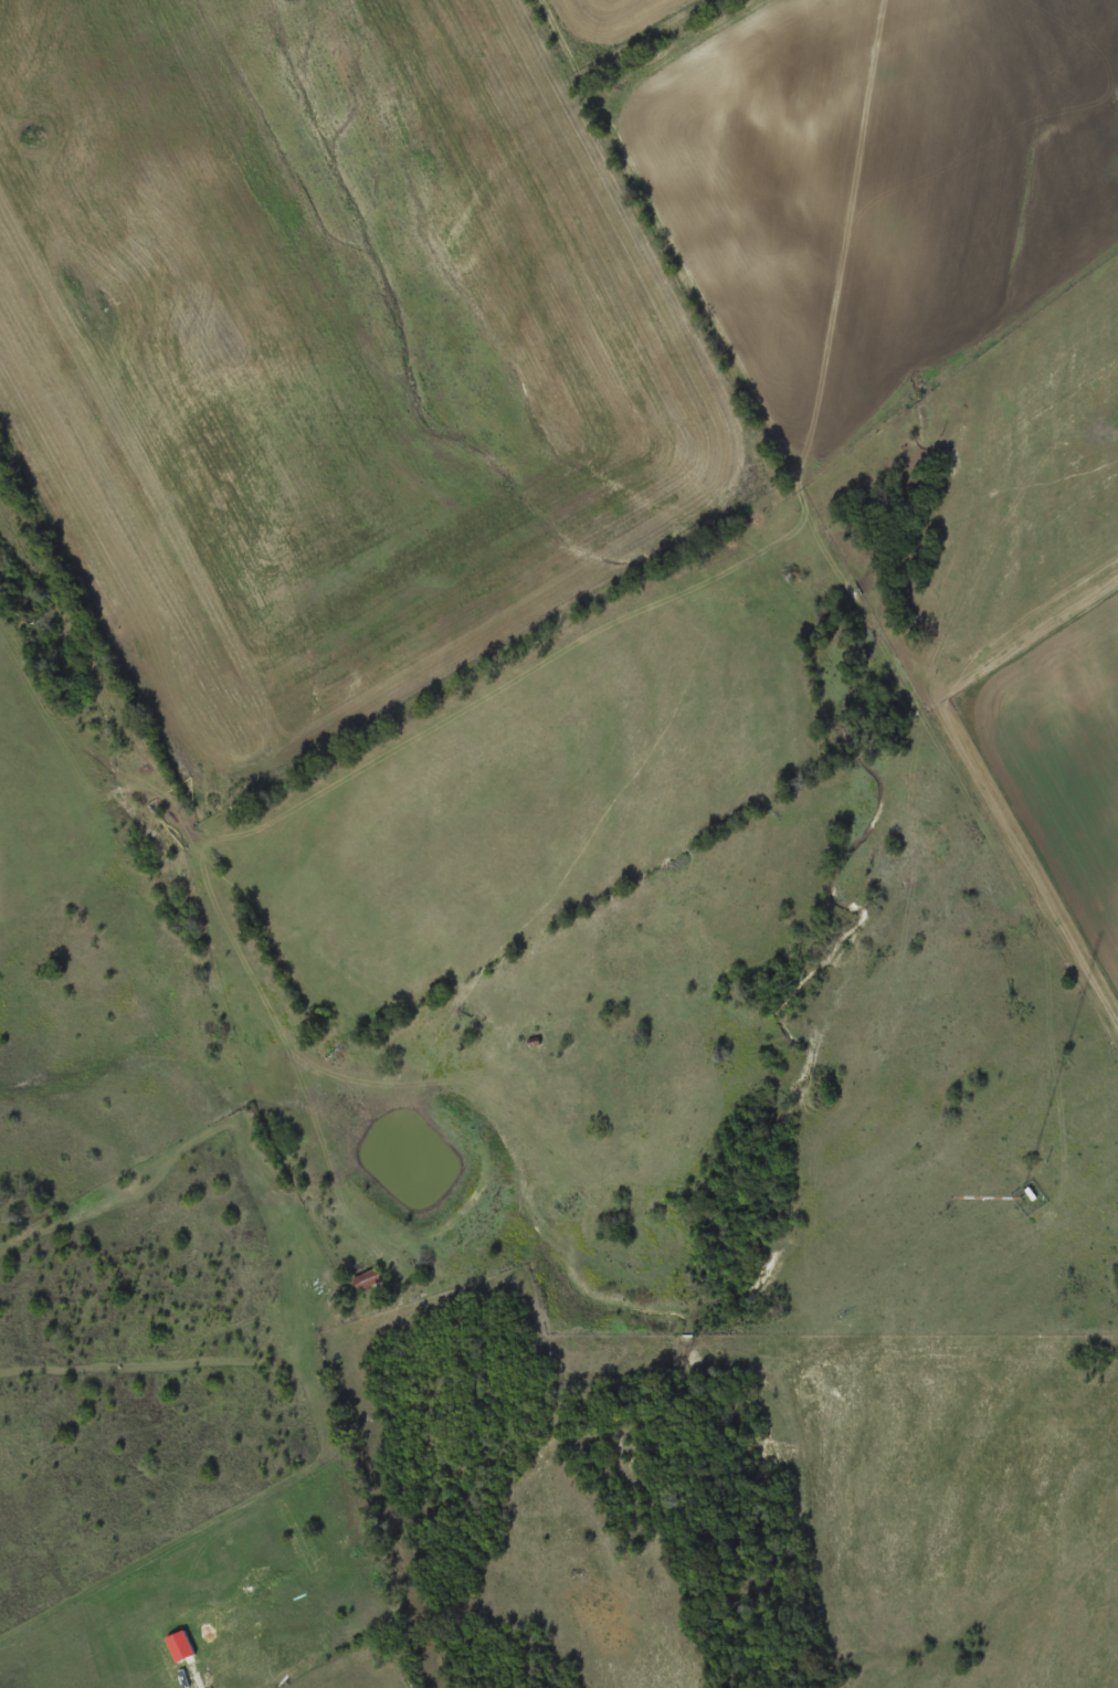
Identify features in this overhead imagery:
building: (370, 1278)

